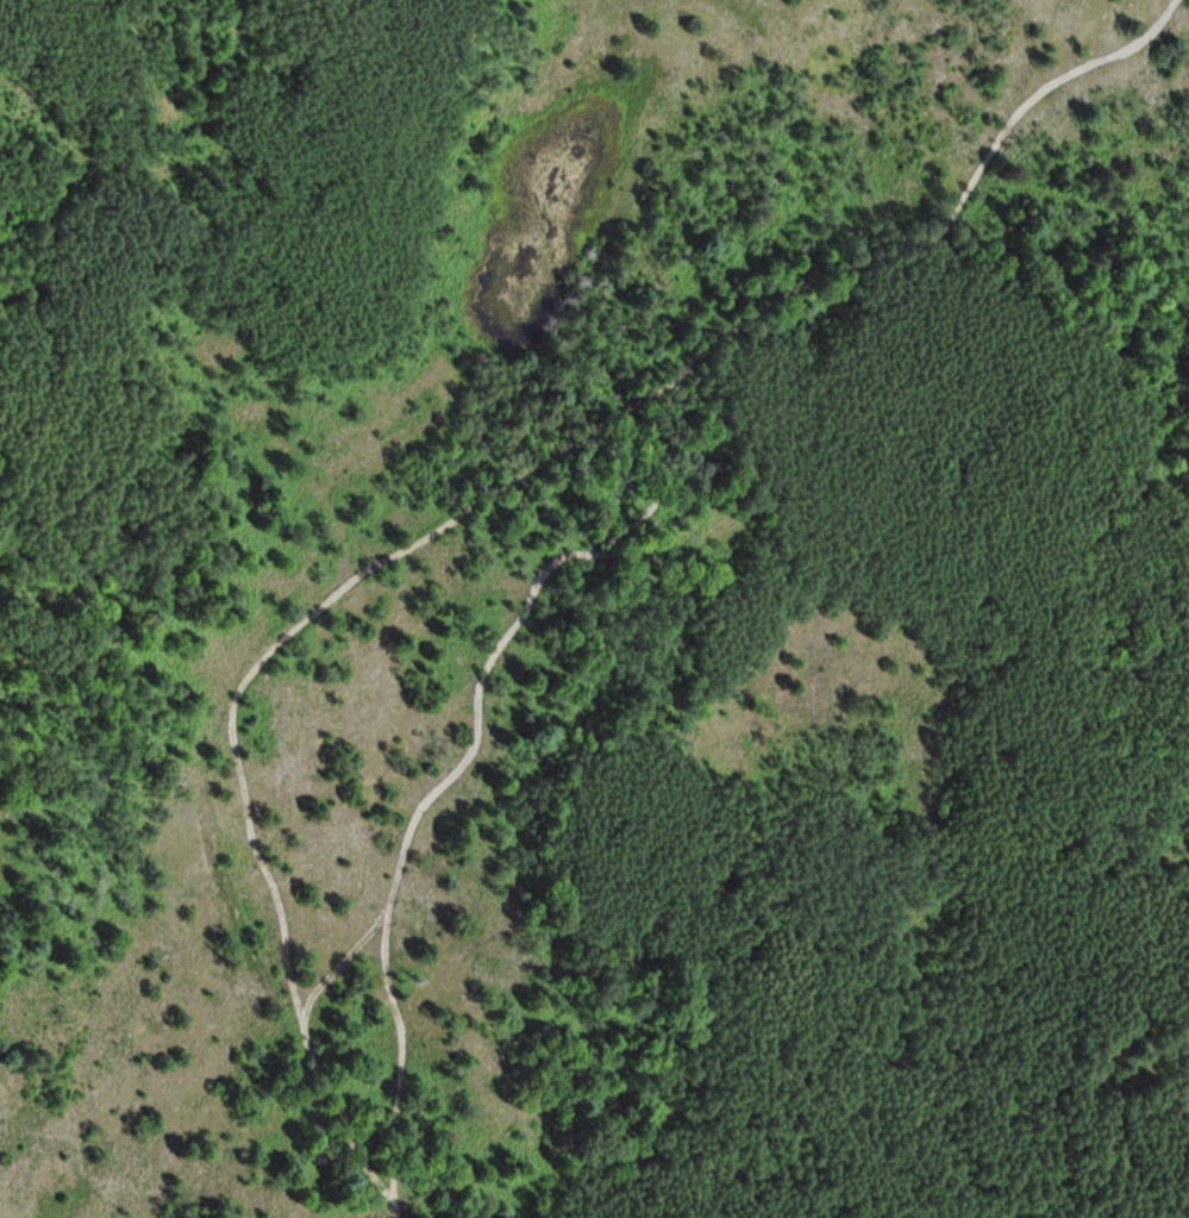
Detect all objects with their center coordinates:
road: (482, 498)
road: (480, 683)
road: (229, 873)
road: (401, 1062)

